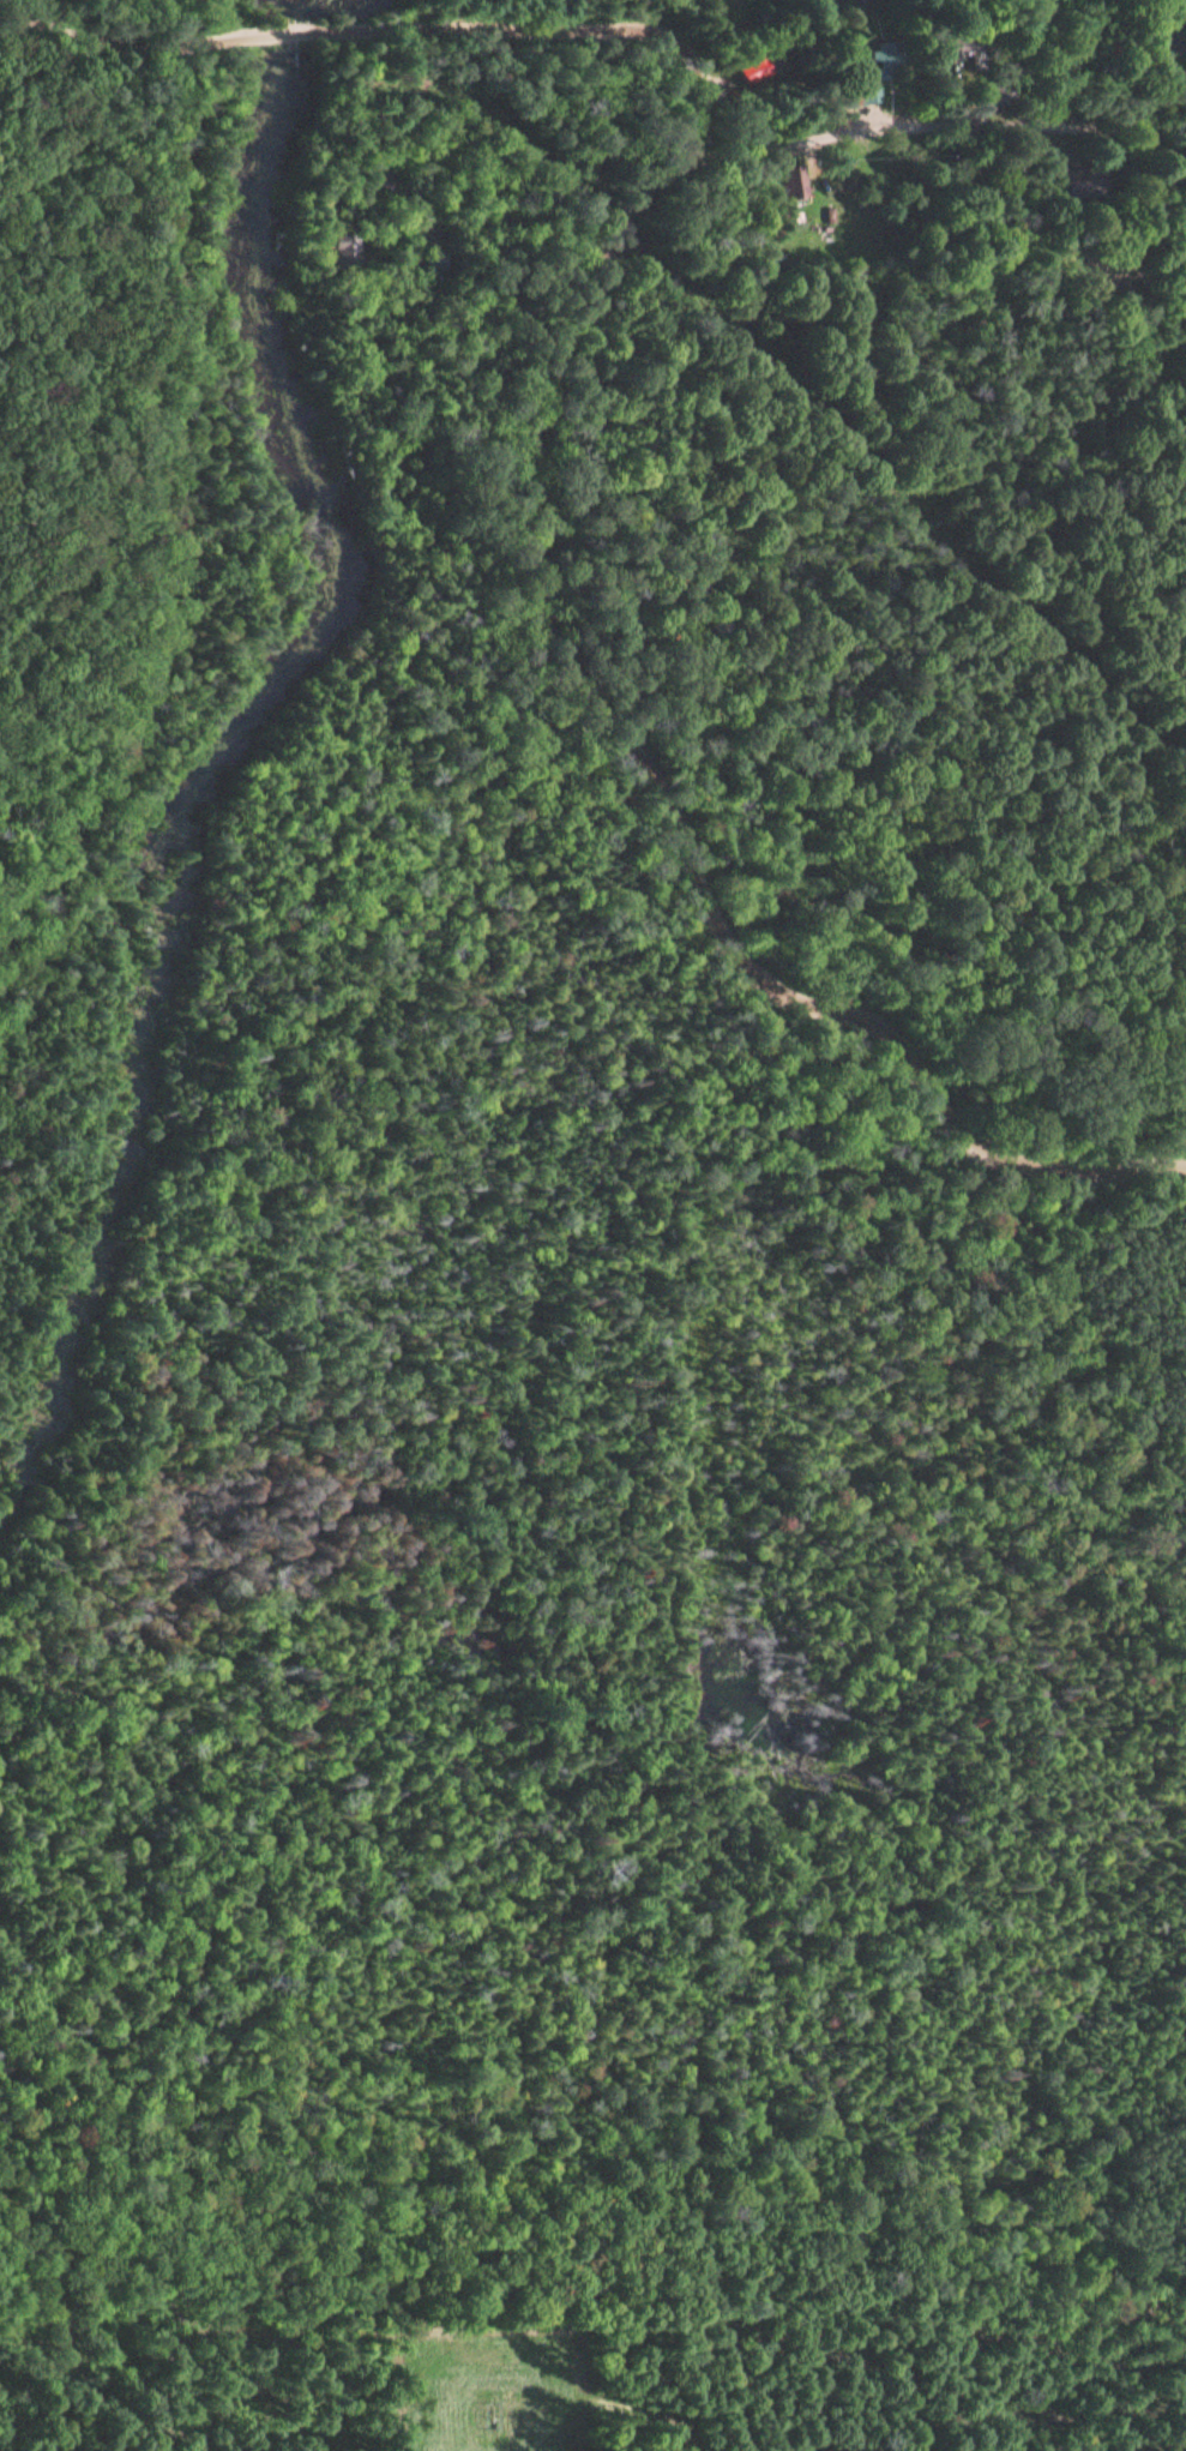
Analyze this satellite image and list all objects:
river: (291, 6)
road: (42, 19)
road: (368, 25)
river: (283, 32)
building: (1176, 40)
building: (892, 53)
building: (975, 59)
building: (758, 66)
building: (867, 84)
building: (1006, 91)
road: (927, 122)
building: (1016, 174)
building: (381, 175)
building: (791, 180)
building: (1088, 182)
building: (347, 248)
building: (433, 259)
river: (228, 738)
road: (637, 769)
road: (690, 1674)
road: (1161, 1803)

